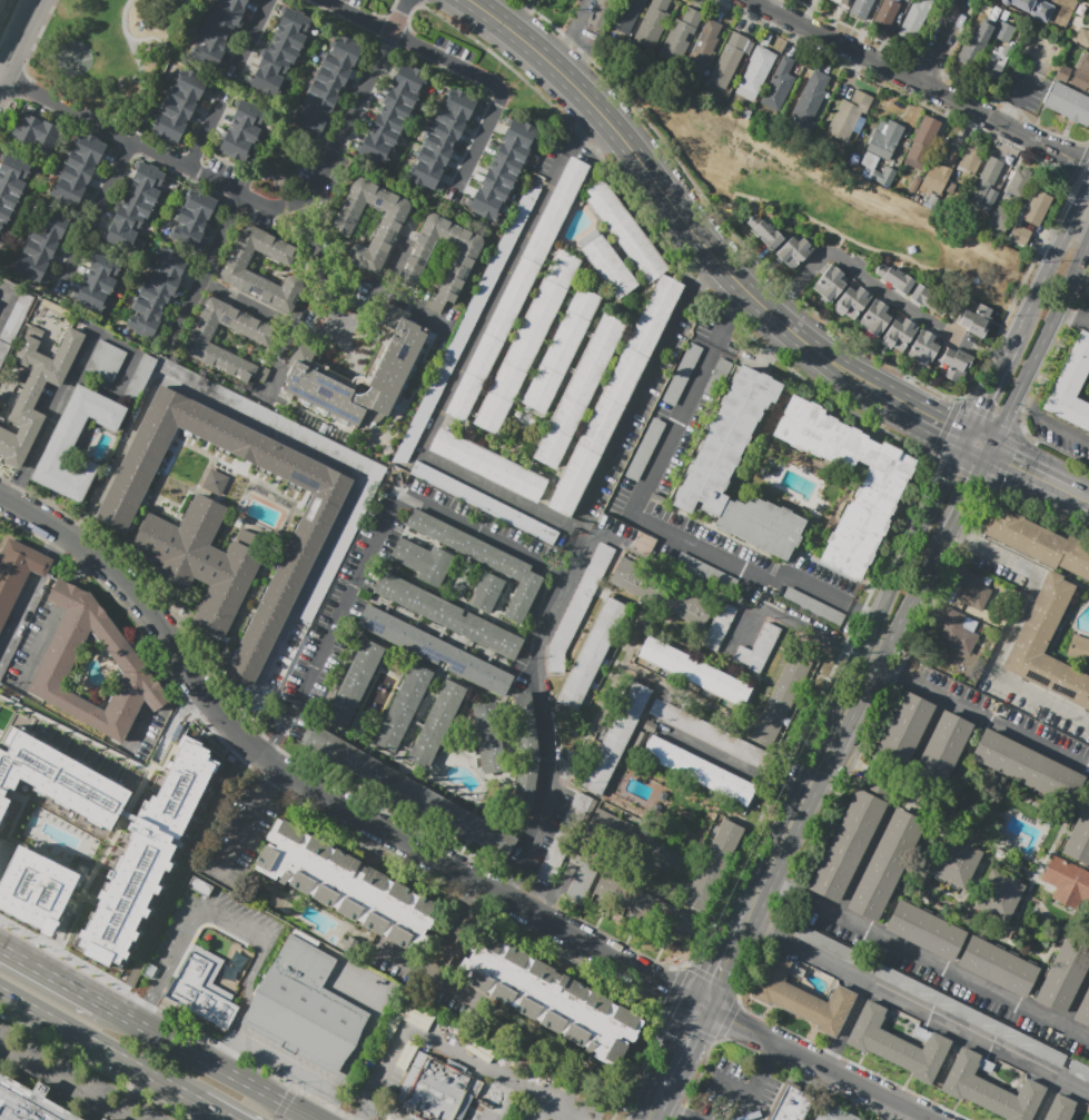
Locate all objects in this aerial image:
road: (472, 1)
building: (841, 1)
building: (847, 1)
building: (1, 2)
parking lot: (356, 2)
park: (377, 7)
building: (860, 8)
building: (1032, 8)
building: (602, 12)
building: (884, 14)
road: (359, 16)
road: (523, 16)
building: (624, 16)
building: (914, 19)
road: (578, 20)
building: (652, 23)
road: (253, 31)
building: (218, 32)
building: (1004, 32)
building: (681, 36)
building: (1082, 37)
road: (152, 38)
road: (19, 39)
road: (940, 40)
building: (976, 46)
building: (703, 48)
building: (281, 51)
road: (560, 52)
park: (111, 53)
park: (76, 57)
building: (998, 59)
building: (729, 60)
road: (139, 69)
building: (1088, 72)
building: (755, 73)
building: (1088, 79)
building: (329, 81)
road: (923, 82)
building: (779, 85)
road: (496, 87)
parking lot: (1022, 89)
building: (809, 98)
road: (260, 99)
road: (1017, 100)
building: (1068, 102)
building: (180, 103)
building: (394, 113)
road: (583, 115)
building: (849, 115)
building: (241, 130)
building: (37, 132)
road: (204, 135)
road: (1065, 137)
building: (440, 138)
building: (885, 139)
building: (923, 141)
building: (972, 159)
building: (79, 168)
building: (504, 169)
road: (647, 172)
building: (938, 174)
building: (883, 176)
building: (1019, 182)
building: (914, 184)
building: (11, 185)
building: (988, 185)
road: (253, 200)
building: (919, 200)
building: (136, 206)
building: (1037, 208)
road: (99, 210)
building: (192, 218)
building: (392, 220)
building: (1001, 220)
building: (625, 230)
building: (764, 231)
building: (1020, 235)
building: (41, 242)
road: (1087, 248)
building: (794, 251)
road: (1052, 259)
building: (463, 260)
building: (607, 266)
road: (321, 267)
road: (204, 272)
building: (235, 272)
road: (862, 276)
building: (894, 278)
building: (99, 281)
road: (700, 281)
building: (830, 283)
building: (516, 289)
road: (10, 293)
building: (157, 293)
building: (929, 300)
building: (851, 303)
road: (417, 310)
road: (734, 310)
building: (17, 313)
road: (1052, 315)
building: (874, 317)
road: (1072, 317)
building: (974, 320)
building: (900, 334)
building: (256, 335)
road: (333, 335)
building: (526, 341)
road: (1010, 345)
building: (923, 346)
building: (562, 349)
road: (984, 353)
road: (284, 357)
building: (954, 361)
building: (393, 365)
road: (462, 365)
building: (122, 368)
road: (999, 368)
road: (848, 371)
building: (682, 375)
building: (717, 378)
building: (1071, 386)
building: (434, 389)
building: (578, 390)
building: (36, 393)
building: (613, 396)
road: (979, 404)
road: (634, 405)
traffic signals: (979, 406)
road: (920, 410)
road: (52, 417)
road: (1002, 419)
road: (1048, 423)
traffic signals: (943, 424)
road: (973, 440)
building: (60, 445)
road: (310, 446)
building: (645, 449)
building: (716, 457)
traffic signals: (1011, 460)
building: (488, 465)
road: (950, 467)
road: (1031, 470)
road: (967, 477)
traffic signals: (967, 478)
building: (215, 480)
road: (267, 485)
building: (880, 492)
road: (1085, 496)
building: (484, 503)
road: (646, 522)
road: (942, 526)
road: (482, 534)
building: (181, 541)
building: (253, 541)
road: (50, 542)
building: (643, 543)
building: (1038, 543)
building: (483, 559)
building: (422, 562)
road: (40, 565)
building: (211, 566)
road: (82, 571)
building: (705, 572)
building: (18, 573)
road: (897, 579)
building: (228, 589)
building: (486, 592)
building: (663, 592)
building: (973, 592)
road: (67, 596)
building: (274, 605)
building: (812, 605)
road: (905, 605)
building: (578, 607)
road: (864, 611)
road: (18, 612)
road: (340, 612)
building: (447, 615)
building: (1040, 620)
building: (719, 627)
road: (800, 628)
road: (1008, 628)
building: (959, 631)
road: (40, 647)
building: (759, 648)
building: (1078, 648)
building: (434, 650)
building: (62, 651)
building: (592, 655)
road: (880, 667)
building: (694, 672)
building: (354, 683)
building: (780, 705)
building: (403, 706)
road: (541, 706)
road: (176, 717)
road: (989, 722)
building: (436, 724)
road: (836, 731)
building: (902, 732)
building: (707, 733)
building: (488, 736)
road: (922, 736)
building: (616, 739)
road: (271, 743)
building: (942, 750)
building: (349, 757)
road: (732, 765)
building: (1026, 767)
building: (699, 771)
road: (274, 777)
building: (58, 779)
road: (318, 793)
building: (455, 816)
road: (246, 826)
building: (564, 836)
building: (1079, 837)
building: (636, 840)
building: (848, 842)
road: (374, 846)
building: (146, 852)
road: (776, 855)
road: (860, 862)
building: (956, 862)
building: (885, 864)
building: (714, 865)
building: (583, 873)
building: (1066, 881)
building: (346, 885)
road: (773, 886)
building: (33, 888)
road: (503, 888)
road: (554, 891)
building: (998, 896)
building: (645, 906)
road: (199, 909)
road: (453, 930)
building: (925, 930)
building: (831, 946)
parking lot: (831, 946)
road: (567, 955)
road: (726, 960)
road: (935, 965)
building: (998, 967)
building: (1063, 973)
road: (426, 975)
road: (49, 977)
building: (201, 987)
building: (922, 992)
parking lot: (922, 992)
building: (802, 997)
road: (1075, 997)
building: (548, 998)
road: (151, 999)
road: (244, 1001)
building: (303, 1007)
traffic signals: (704, 1009)
building: (1082, 1010)
road: (915, 1012)
road: (845, 1028)
building: (1016, 1039)
parking lot: (1016, 1039)
building: (897, 1044)
road: (98, 1047)
road: (683, 1048)
road: (773, 1052)
road: (204, 1060)
road: (818, 1063)
building: (1079, 1070)
parking lot: (1079, 1070)
road: (386, 1071)
road: (493, 1071)
parking lot: (465, 1074)
parking lot: (67, 1081)
road: (62, 1084)
road: (736, 1086)
building: (989, 1089)
road: (755, 1090)
building: (430, 1092)
road: (130, 1093)
parking lot: (735, 1094)
road: (501, 1100)
road: (1046, 1100)
road: (1076, 1100)
building: (28, 1102)
building: (794, 1102)
road: (656, 1104)
road: (669, 1109)
building: (1060, 1109)
road: (212, 1111)
road: (543, 1111)
building: (833, 1113)
road: (1071, 1114)
building: (783, 1116)
road: (685, 1117)
road: (307, 1118)
road: (310, 1118)
road: (346, 1118)
building: (105, 1119)

